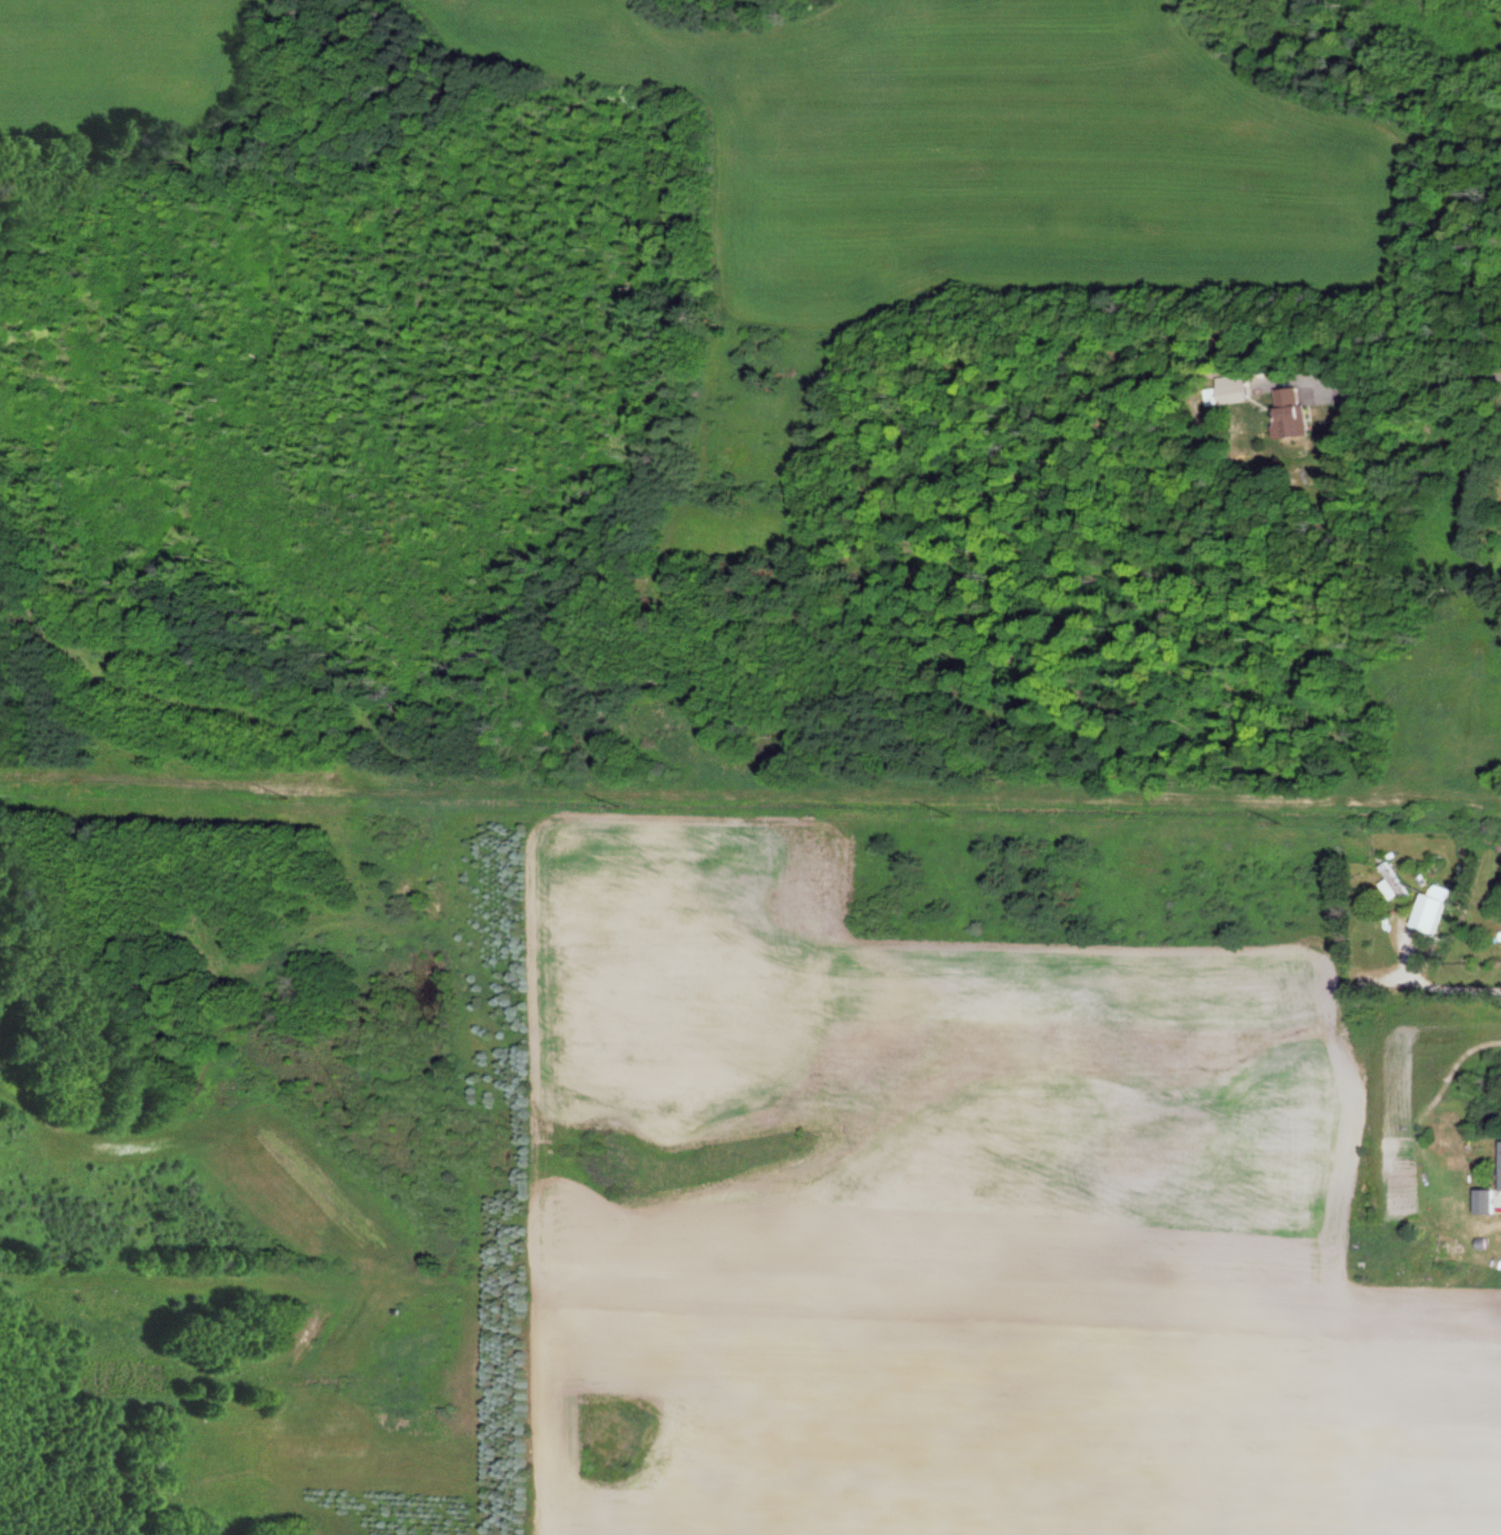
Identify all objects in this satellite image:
building: (1237, 388)
building: (1295, 411)
building: (1397, 884)
building: (1435, 912)
building: (1489, 1201)

